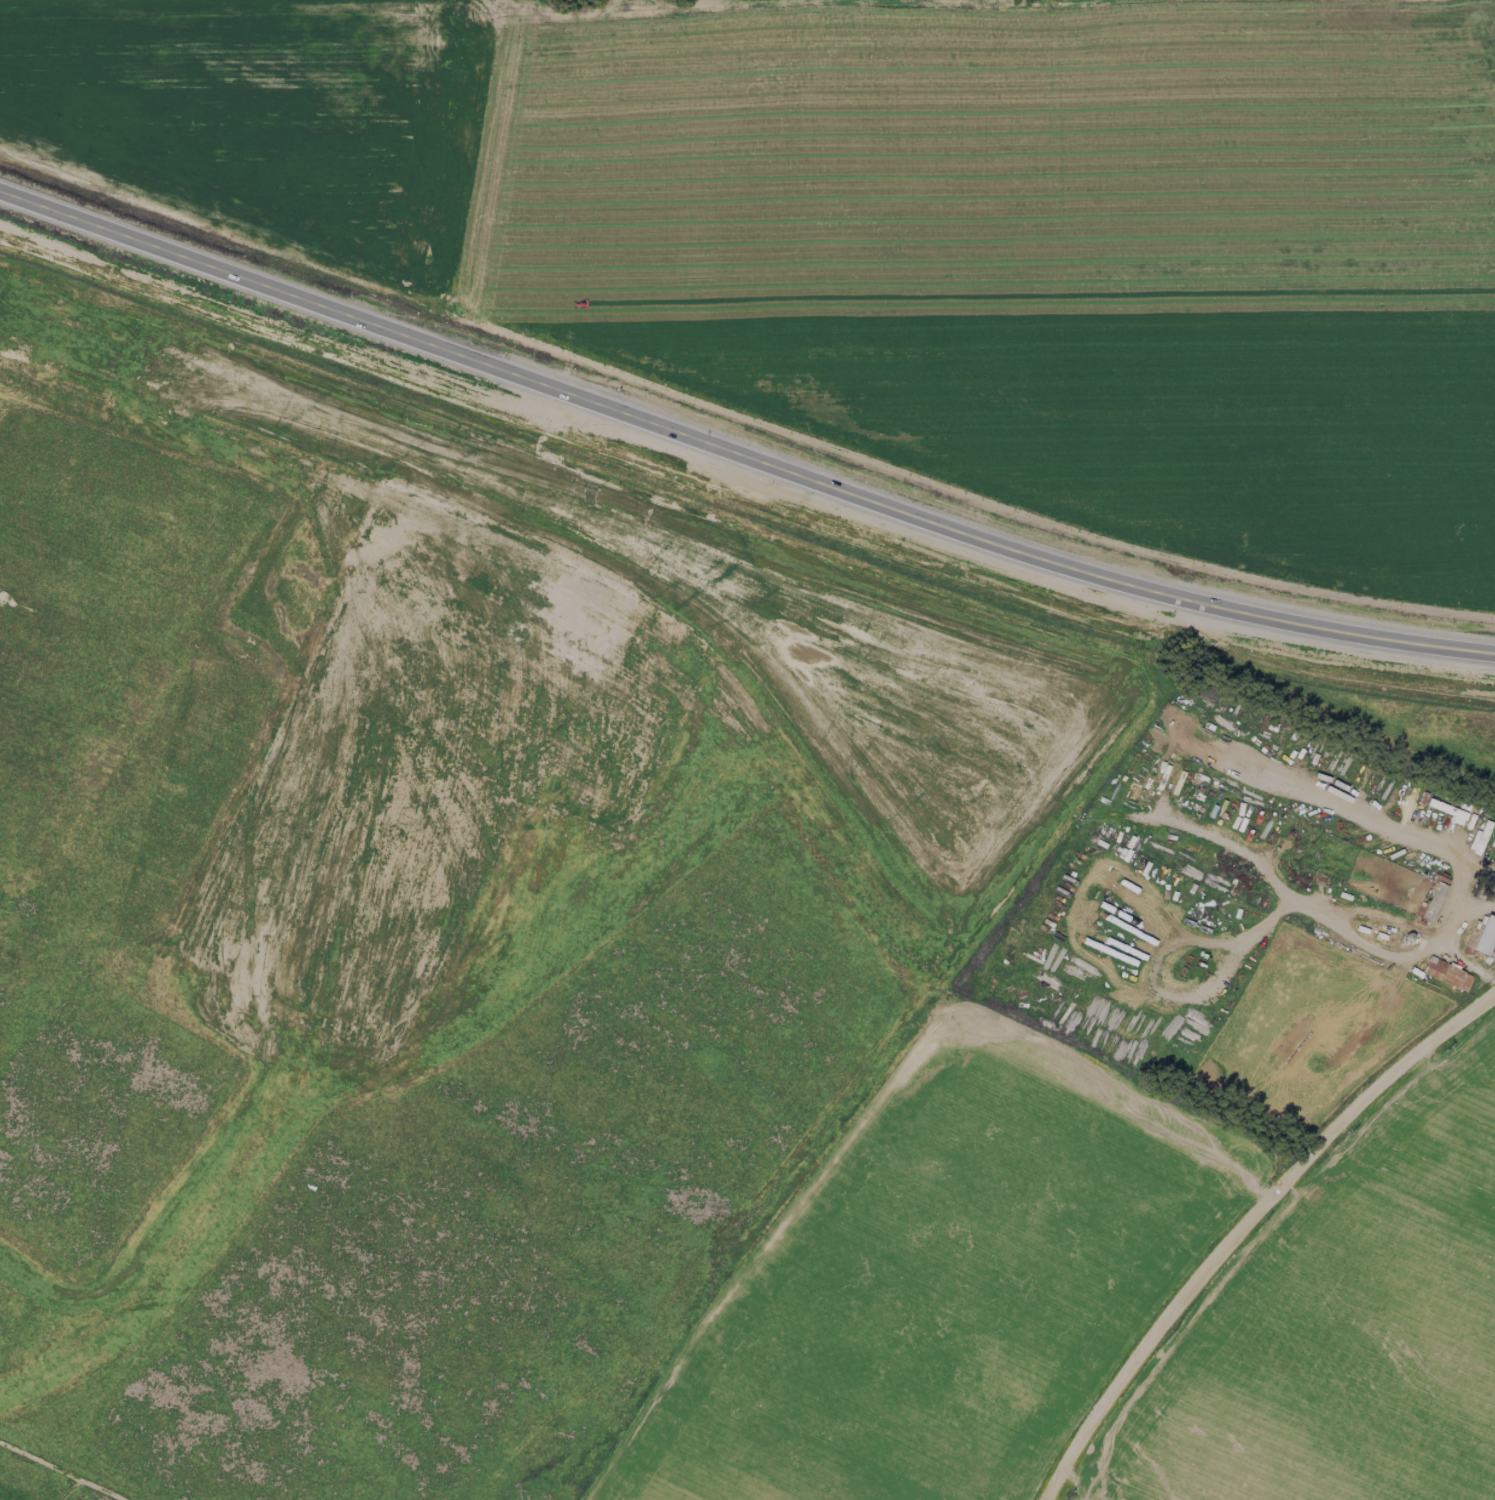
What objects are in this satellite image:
road: (738, 454)
building: (1478, 837)
road: (1296, 899)
building: (1430, 902)
building: (1483, 935)
road: (1446, 939)
building: (1447, 973)
road: (1181, 997)
road: (1242, 1222)

